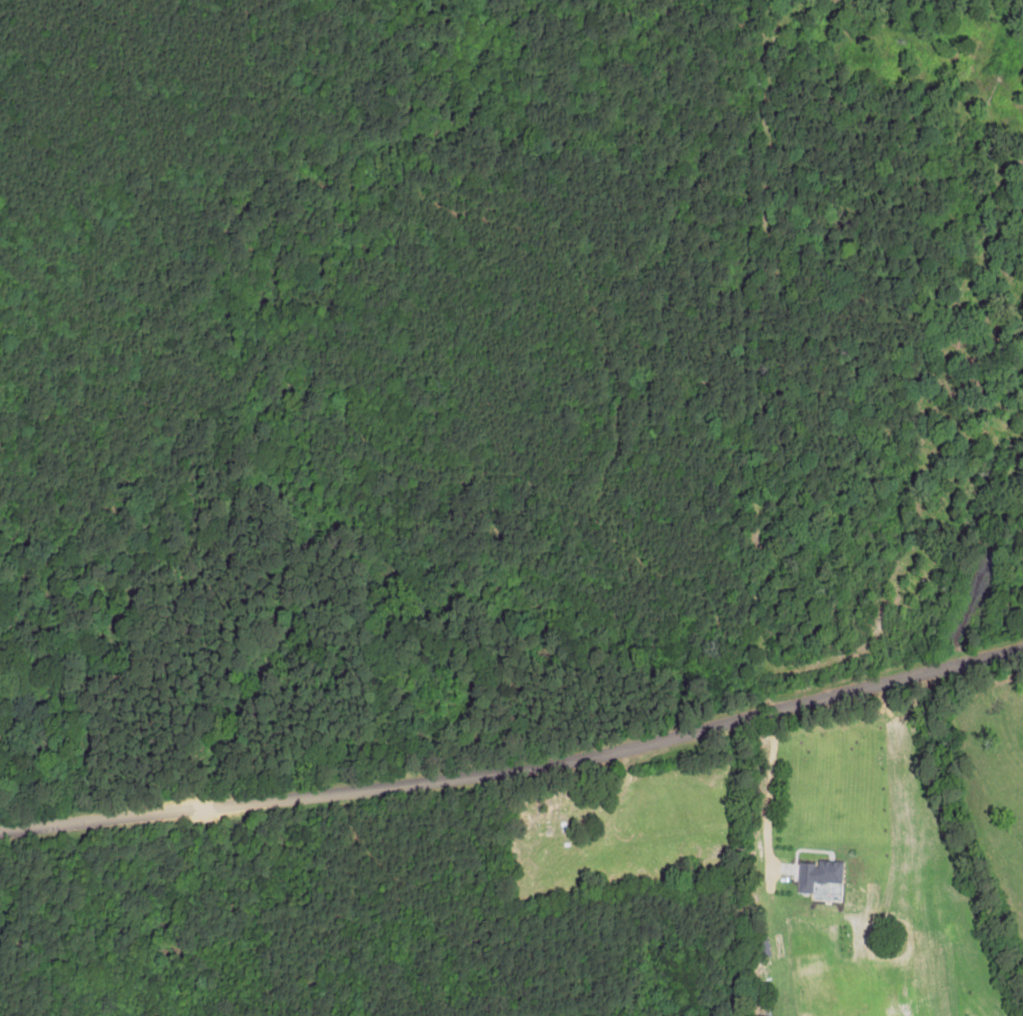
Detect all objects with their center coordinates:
road: (516, 766)
building: (817, 873)

